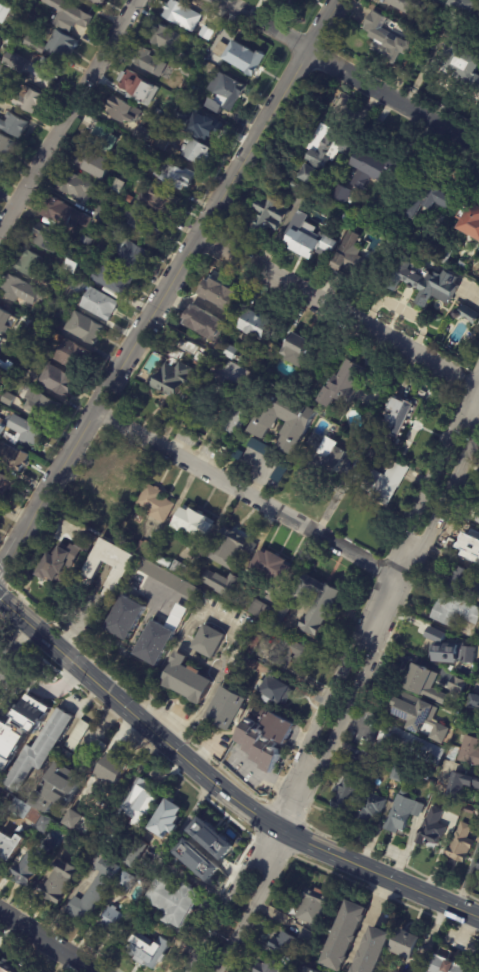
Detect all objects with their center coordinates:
building: (271, 0)
building: (297, 1)
building: (99, 2)
building: (410, 4)
building: (459, 6)
building: (5, 10)
building: (180, 13)
building: (69, 14)
road: (263, 27)
road: (327, 27)
building: (208, 36)
building: (389, 37)
building: (167, 39)
building: (8, 40)
building: (64, 44)
building: (36, 45)
building: (242, 56)
building: (181, 57)
building: (0, 59)
building: (463, 61)
building: (150, 62)
building: (14, 63)
building: (205, 64)
building: (214, 69)
building: (47, 70)
building: (8, 74)
building: (136, 84)
building: (227, 93)
building: (30, 100)
road: (395, 100)
building: (125, 111)
building: (162, 113)
road: (69, 116)
building: (180, 122)
building: (14, 124)
building: (213, 128)
building: (143, 133)
building: (105, 138)
building: (160, 144)
building: (6, 147)
building: (143, 147)
building: (196, 149)
building: (328, 151)
building: (96, 164)
building: (1, 169)
building: (378, 170)
building: (176, 175)
building: (78, 187)
building: (118, 187)
building: (300, 189)
building: (344, 194)
building: (351, 195)
building: (434, 197)
building: (129, 198)
building: (161, 200)
building: (272, 214)
building: (64, 216)
building: (107, 217)
building: (349, 217)
building: (149, 227)
building: (473, 227)
building: (48, 238)
building: (87, 240)
building: (313, 243)
building: (136, 255)
building: (447, 255)
building: (357, 258)
building: (28, 263)
building: (71, 266)
building: (464, 266)
building: (85, 271)
building: (114, 278)
building: (427, 282)
building: (79, 286)
building: (22, 291)
building: (56, 292)
building: (220, 293)
building: (100, 304)
road: (159, 309)
road: (340, 314)
building: (467, 314)
building: (204, 321)
building: (6, 322)
building: (260, 325)
building: (34, 328)
building: (85, 328)
building: (0, 339)
building: (39, 349)
building: (301, 350)
building: (8, 351)
building: (231, 352)
building: (73, 356)
building: (7, 367)
building: (175, 368)
building: (58, 381)
building: (349, 382)
building: (0, 390)
building: (9, 399)
building: (207, 399)
building: (43, 406)
building: (289, 422)
building: (403, 422)
building: (2, 426)
building: (26, 432)
building: (264, 450)
building: (239, 456)
building: (371, 456)
building: (326, 457)
building: (15, 459)
building: (282, 474)
building: (387, 483)
building: (5, 484)
building: (108, 491)
road: (250, 497)
building: (158, 503)
building: (478, 521)
building: (195, 523)
building: (229, 547)
building: (148, 548)
building: (472, 548)
building: (68, 557)
building: (166, 562)
building: (277, 566)
building: (92, 569)
building: (184, 570)
building: (464, 582)
building: (227, 592)
building: (206, 598)
building: (456, 610)
building: (262, 611)
building: (323, 611)
building: (176, 614)
building: (282, 614)
building: (128, 619)
road: (225, 622)
building: (210, 640)
building: (254, 643)
road: (14, 647)
building: (447, 648)
building: (291, 653)
building: (243, 660)
road: (338, 676)
building: (186, 679)
building: (427, 683)
building: (462, 686)
building: (277, 689)
road: (350, 701)
building: (474, 701)
building: (0, 702)
building: (228, 709)
building: (32, 712)
building: (422, 716)
road: (357, 725)
building: (280, 727)
building: (80, 735)
building: (411, 744)
building: (261, 745)
building: (44, 750)
building: (471, 750)
road: (202, 751)
building: (68, 754)
building: (95, 758)
building: (370, 760)
building: (118, 769)
building: (400, 774)
road: (268, 779)
building: (463, 784)
building: (59, 787)
road: (220, 789)
building: (346, 789)
building: (144, 805)
building: (371, 806)
building: (404, 809)
building: (0, 814)
building: (33, 815)
building: (170, 819)
building: (75, 820)
building: (432, 829)
building: (210, 838)
building: (74, 840)
building: (461, 843)
building: (11, 846)
building: (209, 850)
building: (141, 854)
building: (195, 860)
building: (33, 865)
building: (478, 867)
building: (61, 881)
building: (125, 884)
building: (97, 889)
building: (175, 901)
building: (313, 905)
building: (112, 920)
building: (137, 921)
road: (369, 921)
building: (346, 935)
building: (311, 937)
road: (46, 943)
building: (412, 944)
building: (287, 946)
building: (323, 949)
building: (376, 950)
building: (148, 951)
building: (452, 963)
building: (8, 964)
building: (272, 966)
building: (314, 970)
building: (395, 971)
building: (398, 971)

